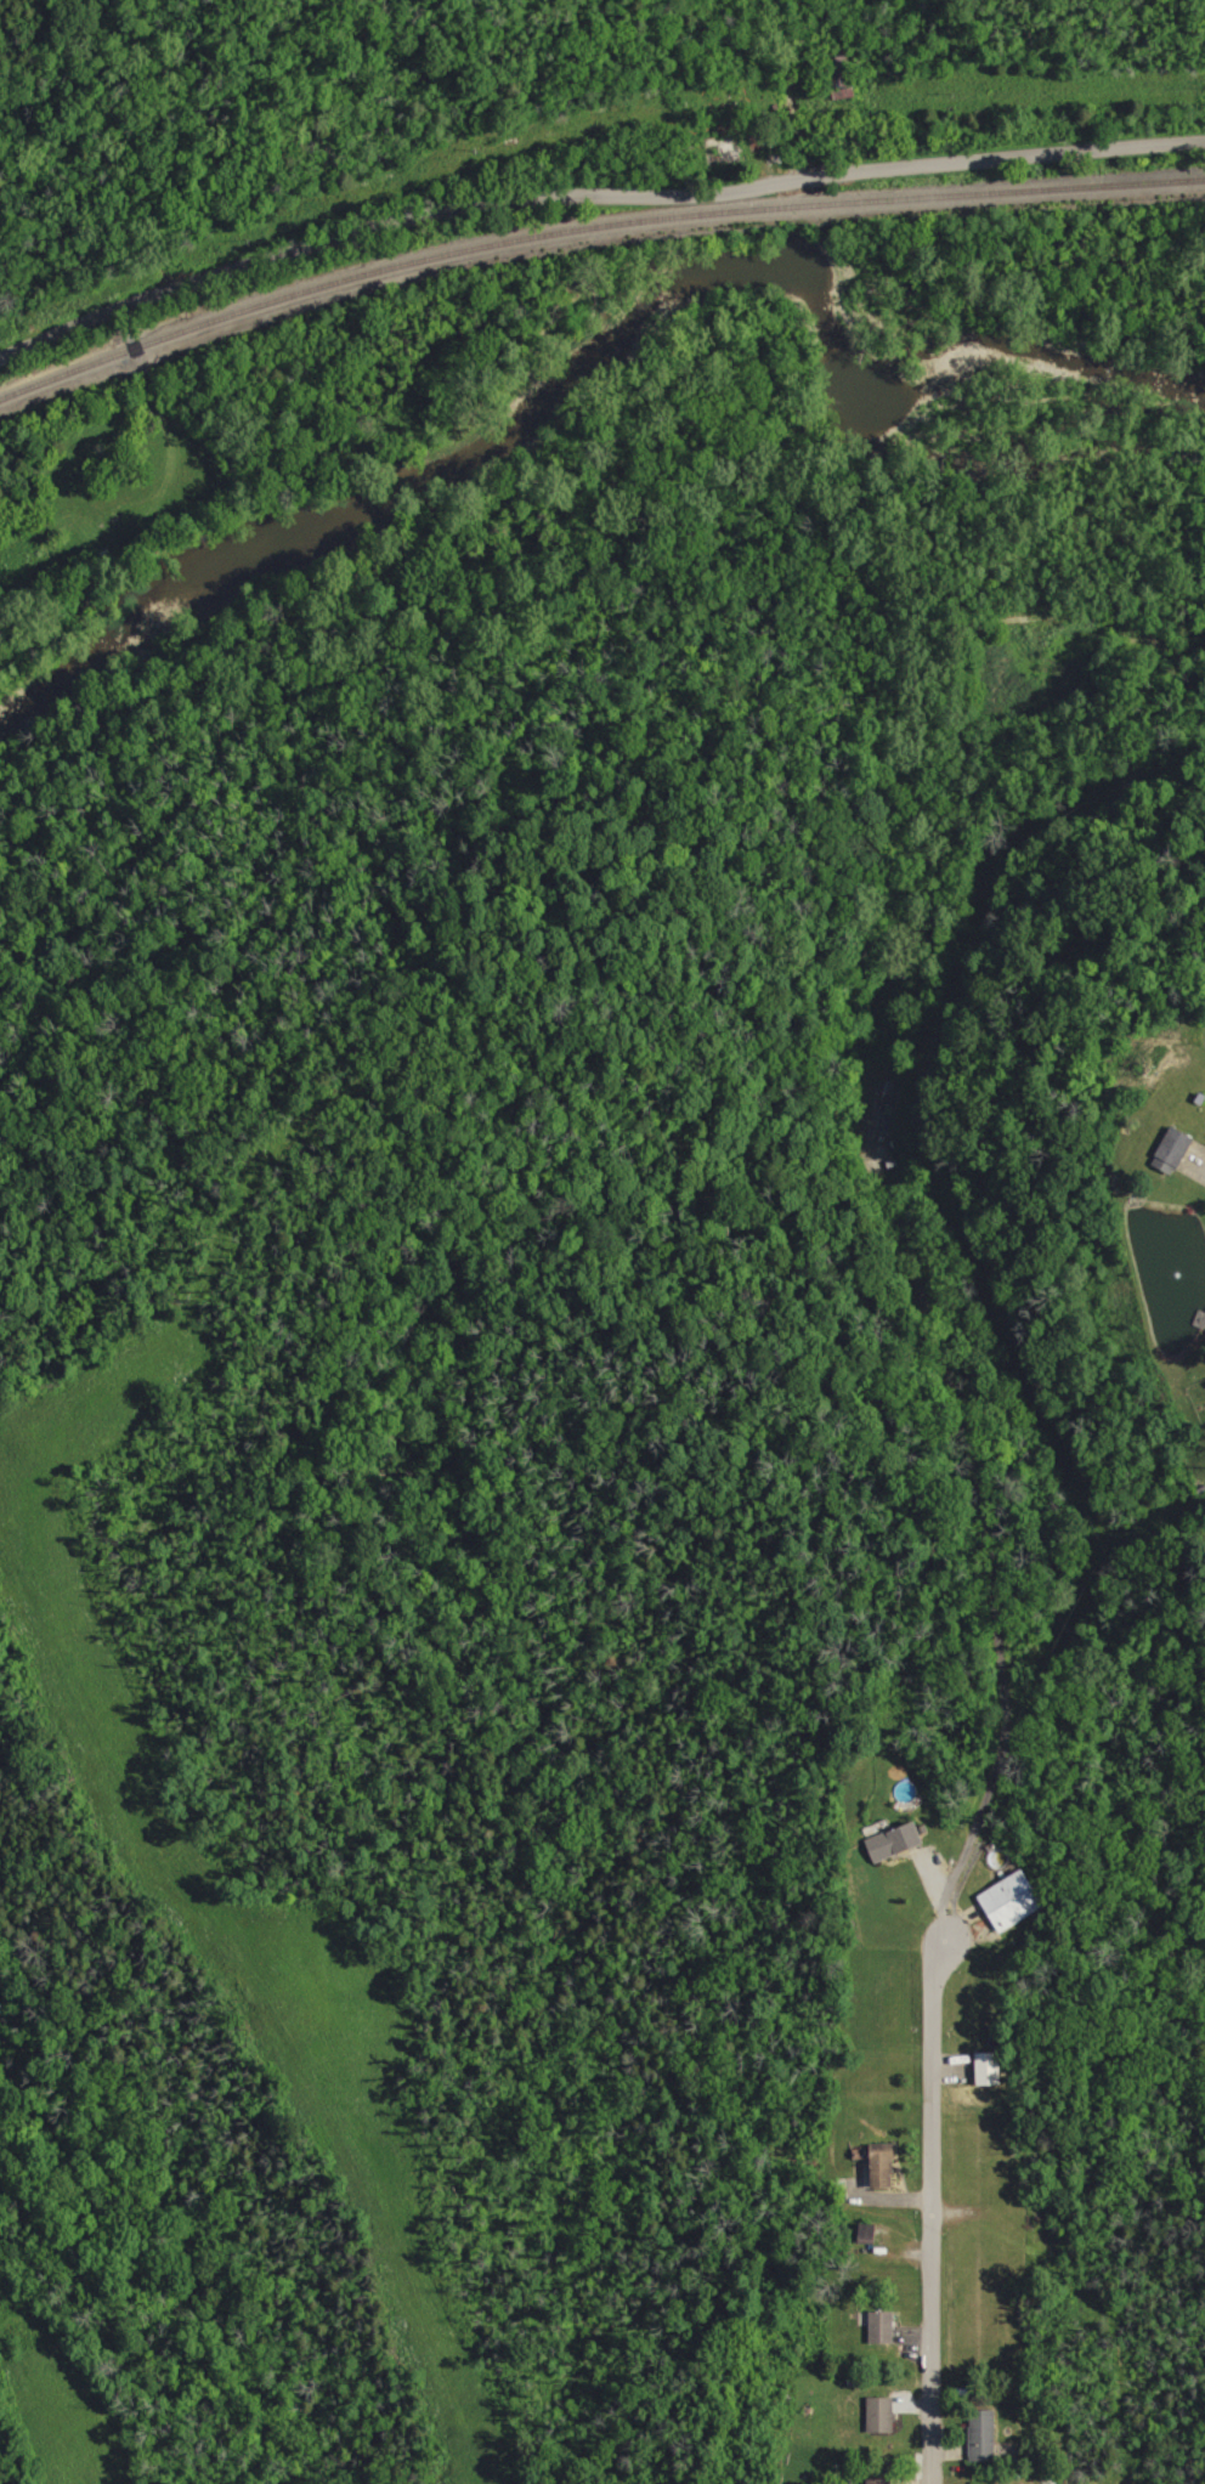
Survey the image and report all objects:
road: (590, 199)
railway: (589, 231)
building: (1176, 1150)
building: (900, 1839)
building: (1016, 1899)
building: (992, 2066)
building: (886, 2163)
road: (928, 2212)
building: (871, 2230)
building: (886, 2326)
building: (884, 2414)
building: (984, 2433)
building: (883, 2480)

